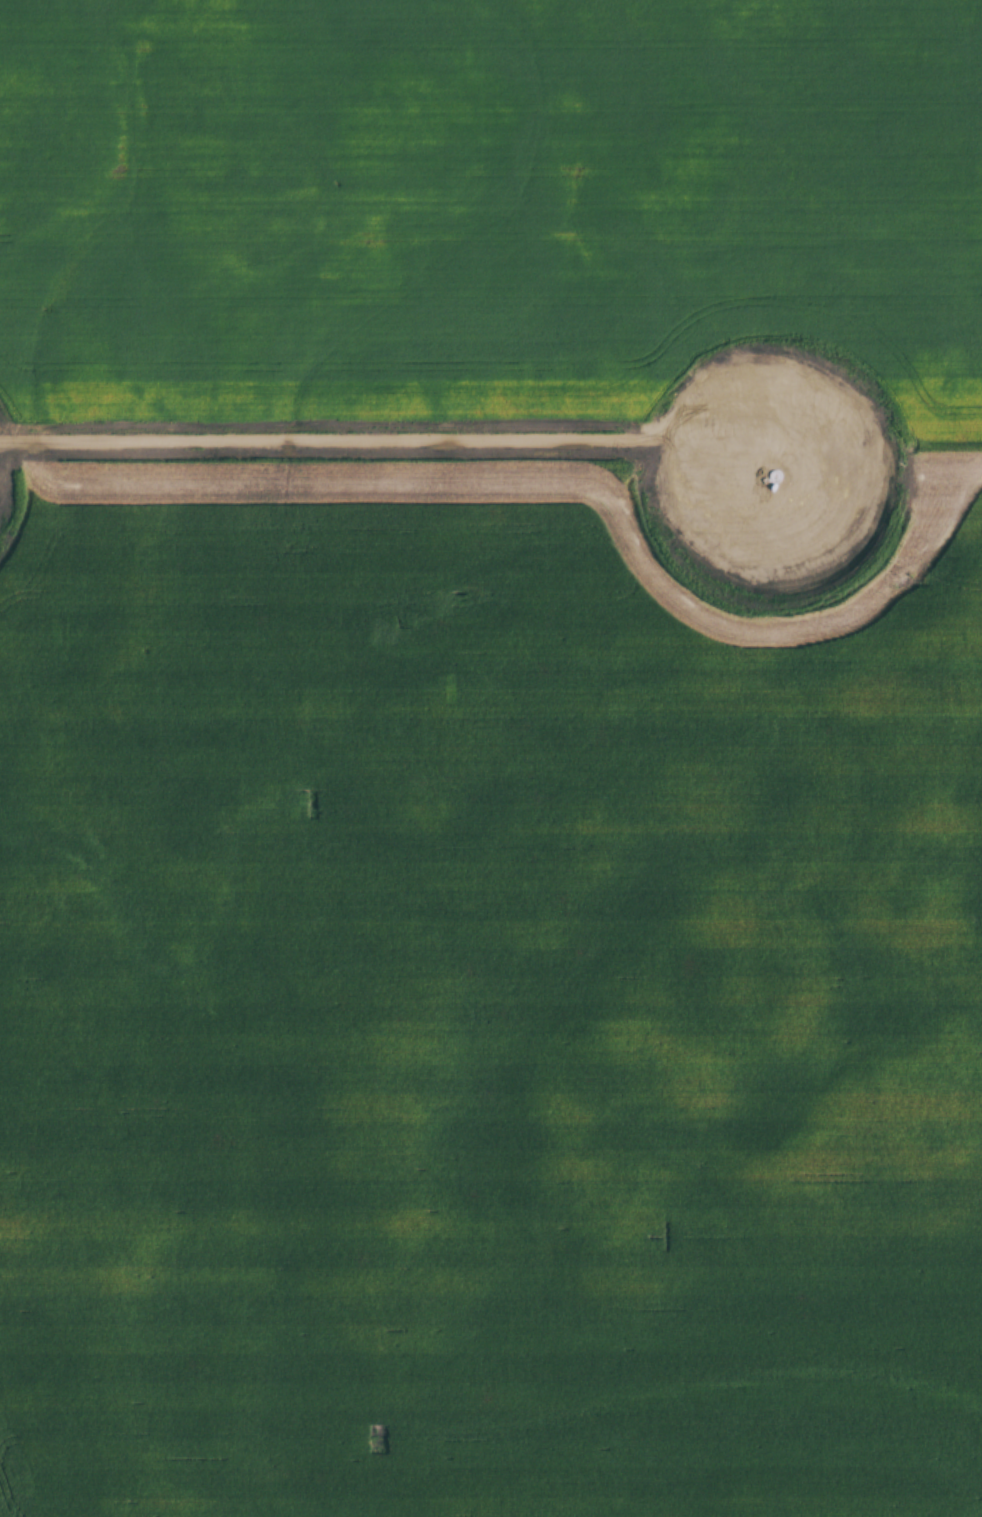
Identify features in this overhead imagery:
wind turbine: (767, 483)

